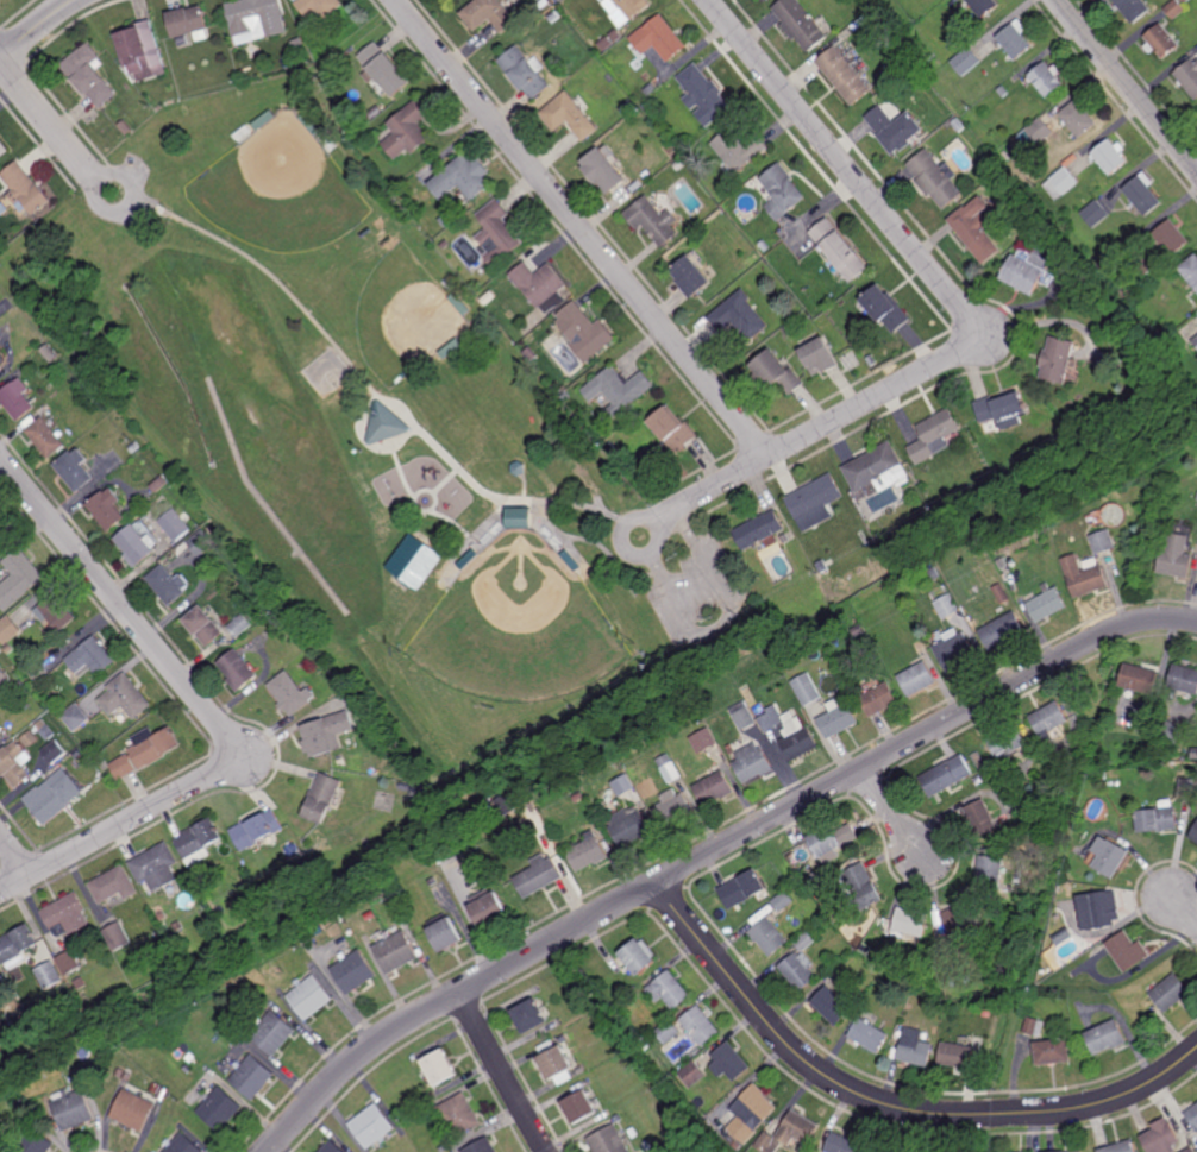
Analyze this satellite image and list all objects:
building: (449, 0)
building: (767, 0)
building: (1186, 1)
building: (321, 6)
building: (982, 6)
building: (1176, 8)
building: (626, 10)
building: (1133, 10)
building: (488, 15)
building: (259, 17)
building: (553, 17)
building: (802, 25)
building: (189, 26)
road: (36, 27)
building: (659, 39)
building: (610, 42)
building: (1015, 42)
building: (1161, 43)
building: (299, 45)
building: (142, 52)
building: (966, 63)
building: (384, 70)
building: (525, 74)
building: (89, 76)
building: (847, 77)
building: (1189, 77)
building: (904, 80)
building: (1048, 80)
road: (1128, 83)
building: (1003, 93)
building: (641, 96)
building: (703, 96)
building: (647, 106)
building: (626, 107)
building: (569, 118)
building: (643, 118)
building: (1079, 120)
road: (49, 121)
building: (264, 121)
building: (311, 125)
building: (126, 128)
building: (895, 131)
building: (1041, 132)
building: (407, 133)
building: (4, 150)
building: (740, 151)
building: (1111, 158)
building: (603, 172)
building: (1066, 178)
building: (936, 180)
building: (462, 182)
building: (27, 187)
building: (637, 188)
park: (280, 189)
building: (782, 193)
building: (1146, 193)
road: (102, 208)
parking lot: (139, 212)
building: (1096, 213)
building: (654, 220)
building: (978, 226)
road: (583, 228)
building: (496, 233)
building: (1173, 234)
building: (444, 244)
building: (764, 245)
building: (840, 247)
building: (747, 262)
building: (1147, 262)
building: (762, 267)
building: (1029, 267)
building: (1191, 267)
building: (478, 273)
building: (691, 273)
road: (275, 277)
building: (540, 284)
building: (1196, 288)
building: (460, 302)
building: (888, 306)
road: (963, 307)
building: (739, 316)
park: (403, 317)
building: (584, 331)
building: (790, 331)
building: (1196, 340)
building: (451, 347)
building: (48, 350)
building: (531, 353)
building: (821, 354)
building: (1059, 359)
building: (2, 360)
building: (777, 371)
building: (557, 388)
building: (619, 388)
building: (565, 396)
building: (19, 398)
building: (98, 401)
road: (400, 405)
building: (1004, 408)
building: (386, 423)
building: (672, 429)
building: (48, 435)
building: (935, 435)
park: (376, 436)
building: (609, 446)
building: (136, 447)
building: (518, 467)
building: (75, 468)
building: (878, 468)
road: (402, 472)
road: (446, 480)
building: (159, 483)
road: (526, 487)
road: (434, 493)
road: (503, 499)
building: (816, 502)
building: (1068, 502)
building: (107, 508)
building: (521, 516)
road: (453, 521)
building: (175, 523)
building: (1, 528)
road: (658, 528)
building: (958, 529)
building: (762, 530)
building: (0, 533)
road: (476, 534)
building: (786, 537)
building: (1102, 541)
road: (595, 542)
building: (200, 543)
building: (136, 544)
road: (571, 547)
building: (914, 552)
building: (1177, 556)
building: (416, 561)
building: (925, 561)
building: (825, 566)
building: (934, 573)
building: (1084, 574)
building: (19, 579)
building: (168, 584)
building: (941, 587)
parking lot: (700, 591)
building: (1002, 593)
road: (121, 603)
building: (1046, 603)
building: (947, 605)
building: (55, 611)
building: (271, 619)
road: (727, 619)
building: (203, 625)
building: (239, 625)
park: (519, 628)
building: (8, 630)
building: (1003, 631)
building: (938, 636)
building: (921, 648)
building: (955, 650)
building: (92, 657)
building: (321, 662)
building: (237, 669)
building: (39, 673)
building: (4, 678)
building: (917, 679)
building: (1141, 679)
building: (1184, 679)
building: (43, 690)
building: (808, 690)
building: (290, 693)
building: (74, 695)
building: (125, 697)
building: (879, 699)
building: (760, 710)
building: (75, 717)
building: (745, 717)
building: (840, 718)
building: (359, 719)
building: (772, 719)
building: (1051, 719)
building: (325, 734)
building: (1171, 734)
building: (30, 735)
building: (5, 737)
building: (798, 737)
building: (704, 741)
building: (1009, 742)
building: (146, 750)
building: (54, 751)
building: (79, 753)
building: (616, 758)
building: (754, 763)
building: (1107, 763)
building: (15, 764)
building: (670, 768)
building: (406, 769)
building: (623, 773)
building: (1101, 775)
building: (947, 776)
building: (402, 786)
building: (415, 788)
building: (715, 788)
building: (1186, 788)
building: (54, 797)
building: (579, 797)
building: (321, 798)
building: (505, 806)
building: (673, 810)
road: (892, 812)
building: (982, 818)
building: (1159, 819)
road: (119, 824)
building: (629, 829)
building: (256, 830)
building: (1193, 835)
building: (834, 841)
building: (199, 842)
road: (713, 851)
road: (14, 854)
building: (588, 854)
building: (441, 858)
building: (1109, 858)
building: (305, 862)
building: (156, 868)
building: (990, 874)
building: (539, 876)
building: (815, 881)
building: (114, 886)
building: (863, 887)
building: (744, 890)
building: (783, 901)
building: (488, 911)
building: (1101, 911)
road: (1183, 911)
building: (67, 917)
building: (402, 919)
building: (961, 920)
building: (807, 923)
building: (911, 924)
building: (839, 934)
building: (445, 936)
building: (118, 937)
building: (769, 938)
building: (1079, 939)
building: (807, 943)
building: (17, 948)
building: (866, 949)
building: (396, 952)
building: (1127, 952)
building: (99, 953)
building: (640, 959)
building: (69, 963)
building: (355, 971)
building: (800, 971)
building: (19, 976)
building: (49, 976)
building: (81, 984)
building: (670, 992)
building: (1167, 994)
building: (68, 996)
building: (309, 997)
building: (834, 1005)
building: (865, 1006)
building: (989, 1009)
building: (528, 1014)
building: (701, 1024)
building: (1034, 1026)
building: (669, 1030)
building: (272, 1031)
building: (646, 1031)
building: (870, 1034)
building: (1108, 1037)
building: (563, 1039)
building: (646, 1044)
building: (916, 1046)
building: (1052, 1050)
building: (958, 1053)
building: (190, 1056)
building: (731, 1060)
building: (554, 1062)
building: (439, 1066)
building: (187, 1068)
building: (579, 1070)
road: (503, 1072)
building: (694, 1072)
building: (251, 1076)
building: (82, 1077)
building: (585, 1082)
building: (165, 1093)
building: (432, 1095)
road: (888, 1103)
building: (578, 1104)
building: (219, 1107)
building: (73, 1108)
building: (133, 1108)
building: (752, 1112)
building: (1191, 1112)
building: (458, 1114)
building: (616, 1119)
building: (374, 1125)
building: (800, 1127)
building: (632, 1132)
road: (926, 1132)
building: (1162, 1138)
building: (607, 1140)
building: (769, 1141)
building: (31, 1142)
building: (182, 1144)
building: (737, 1144)
building: (844, 1144)
building: (482, 1145)
building: (333, 1146)
building: (1121, 1146)
building: (444, 1148)
building: (1191, 1150)
building: (637, 1151)
building: (1029, 1151)
building: (1070, 1151)

